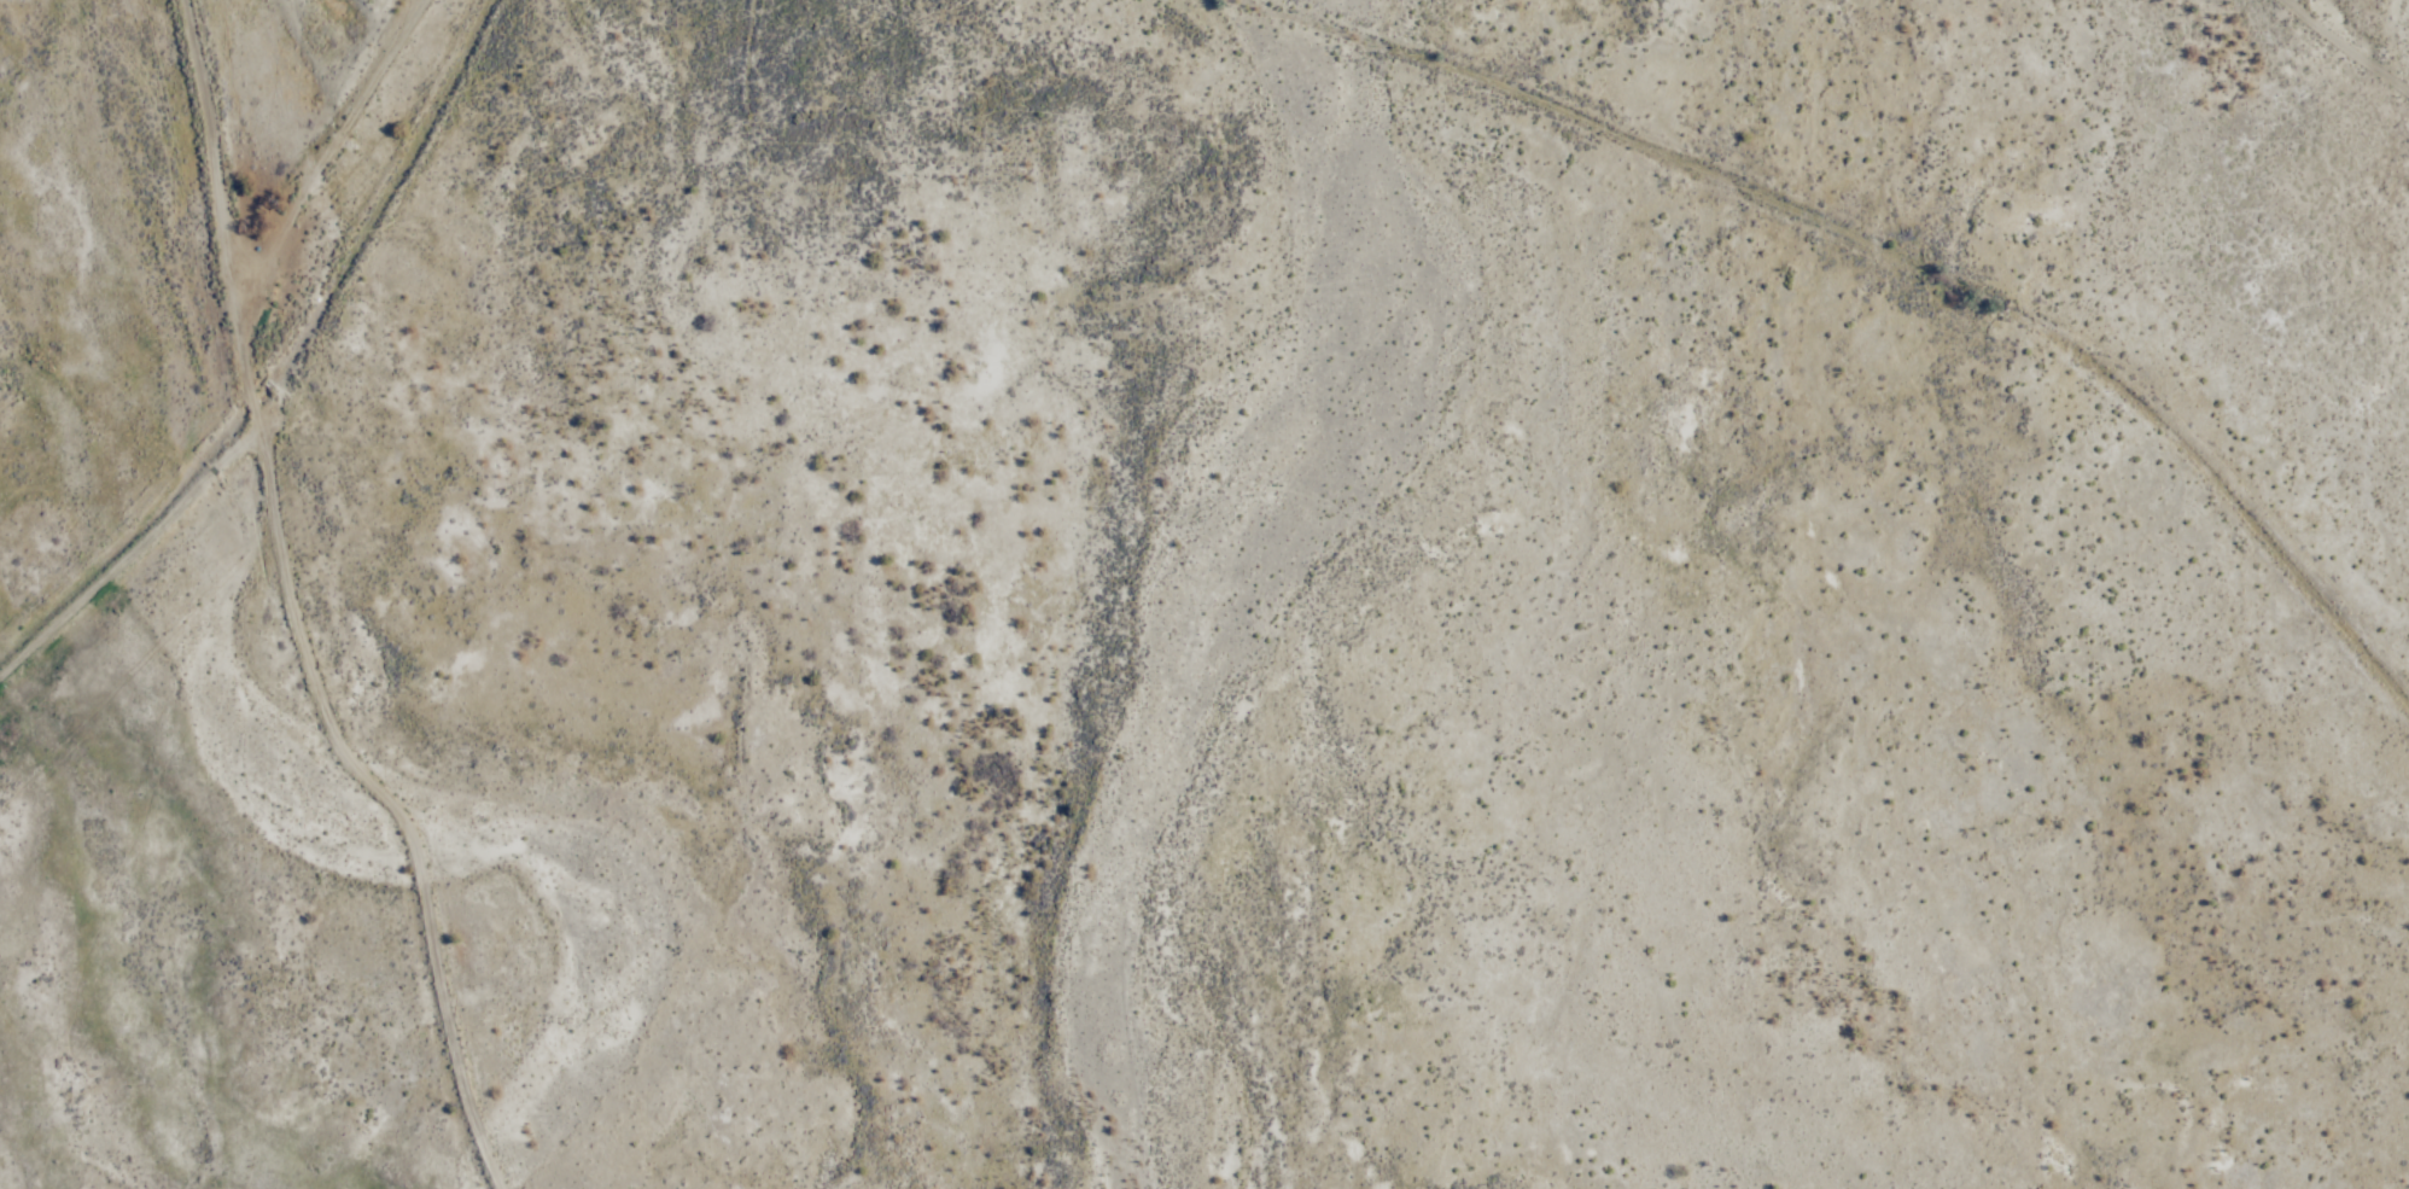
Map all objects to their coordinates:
road: (2333, 56)
road: (311, 156)
road: (132, 552)
road: (290, 608)

